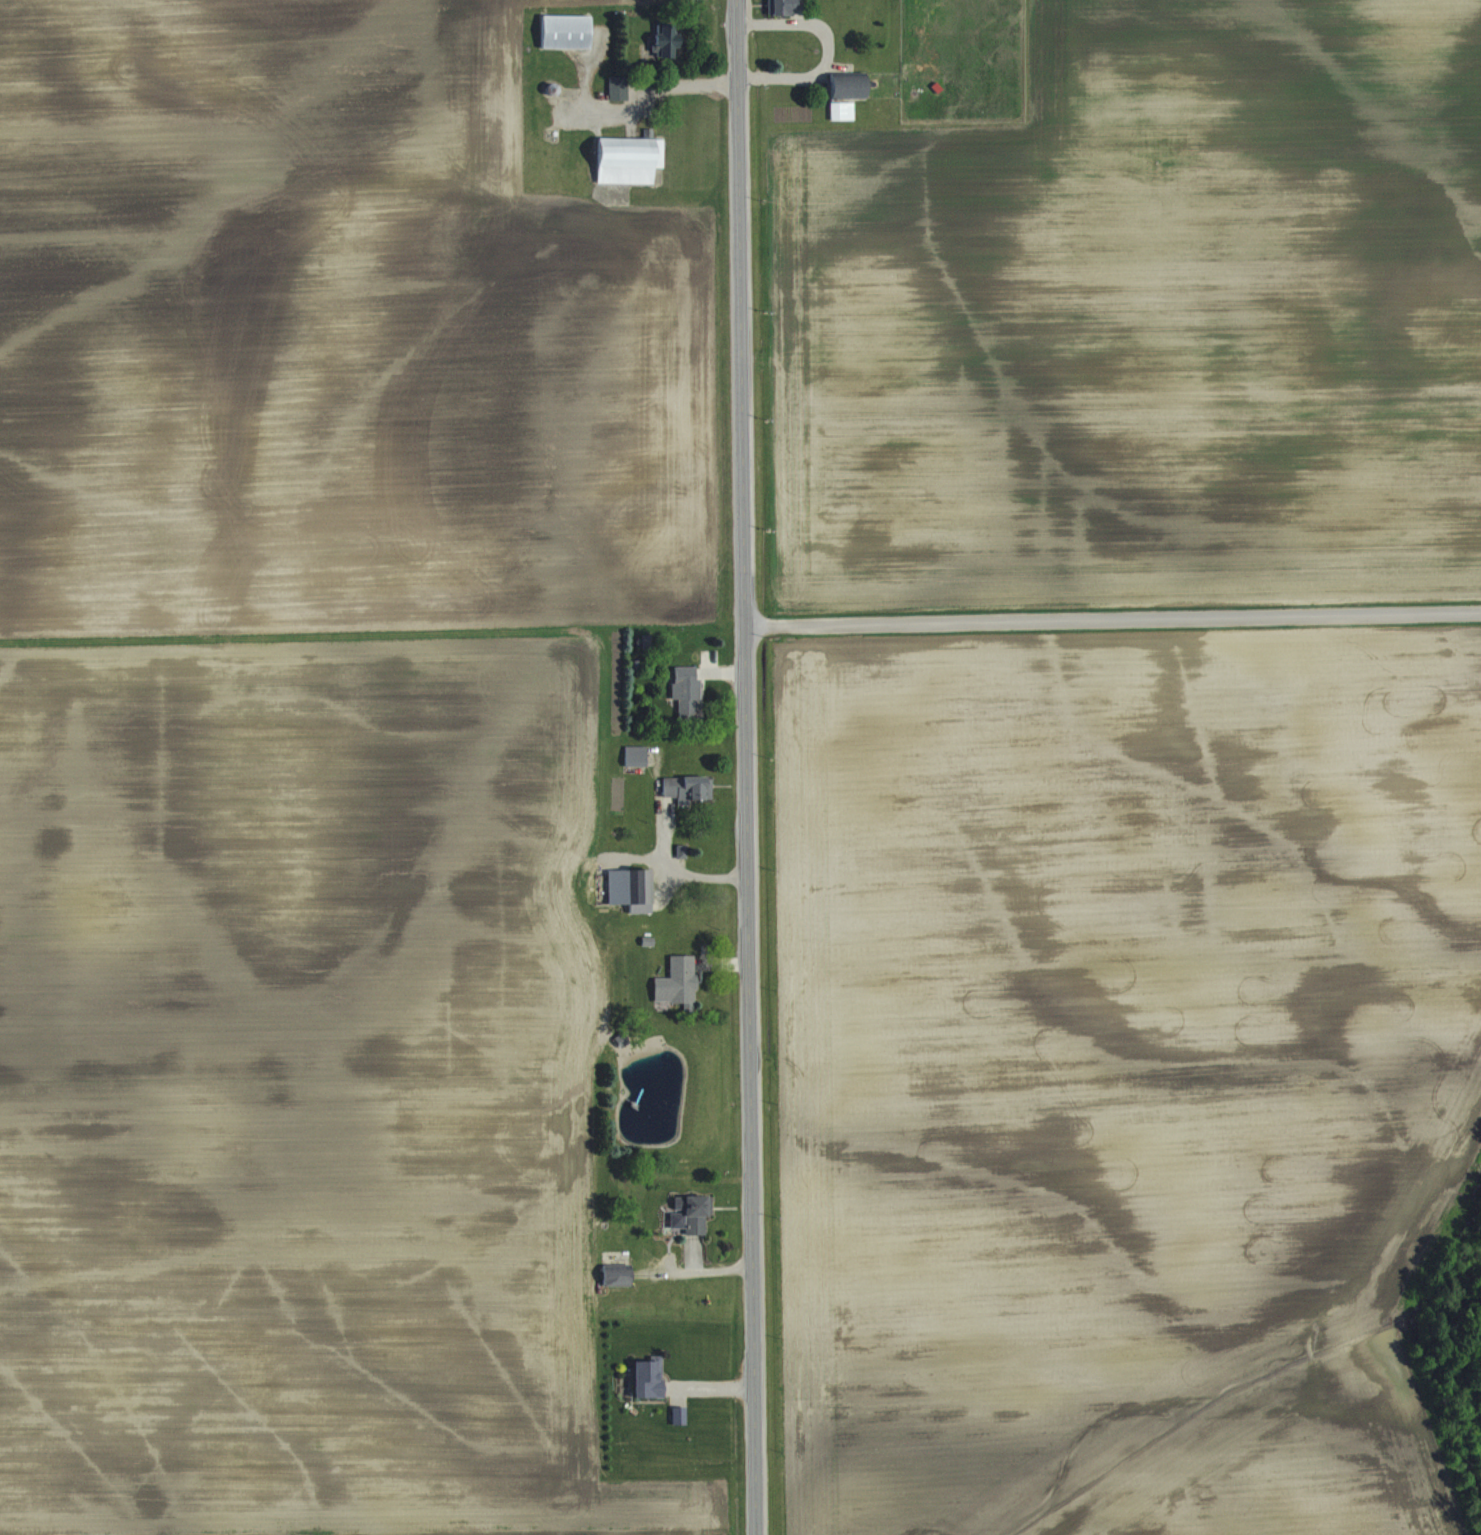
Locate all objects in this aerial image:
building: (777, 7)
building: (562, 31)
building: (659, 40)
road: (823, 50)
building: (844, 83)
building: (614, 87)
building: (625, 160)
road: (1112, 617)
building: (682, 690)
building: (632, 755)
road: (742, 767)
building: (683, 786)
road: (683, 874)
building: (623, 882)
building: (678, 978)
building: (690, 1215)
building: (611, 1277)
building: (641, 1378)

